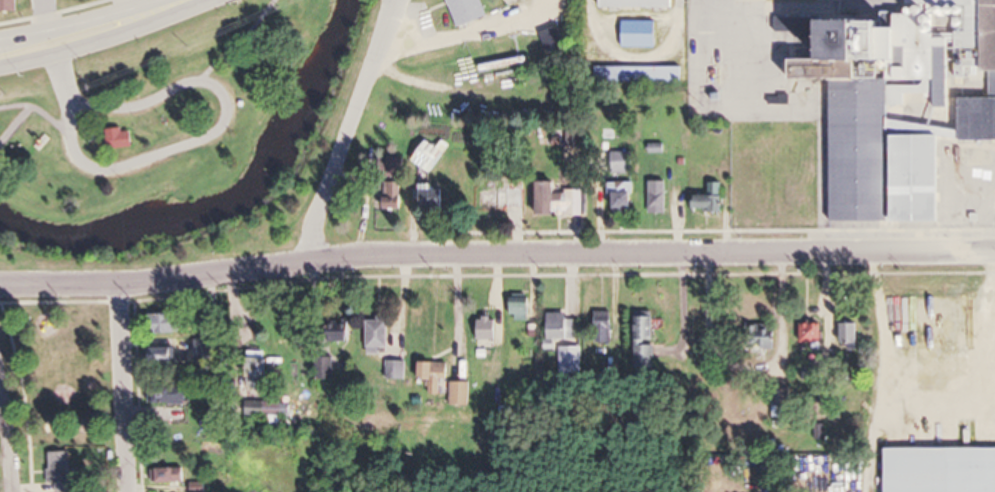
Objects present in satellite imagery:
road: (179, 2)
road: (129, 4)
building: (638, 4)
building: (11, 5)
building: (470, 11)
road: (48, 13)
road: (85, 16)
road: (239, 37)
building: (556, 41)
road: (89, 42)
building: (640, 75)
building: (904, 105)
road: (101, 111)
park: (151, 114)
road: (14, 127)
road: (351, 130)
building: (122, 138)
road: (195, 140)
building: (429, 157)
building: (621, 163)
building: (505, 195)
building: (659, 197)
building: (623, 198)
building: (434, 199)
building: (563, 200)
building: (709, 204)
river: (231, 212)
road: (496, 252)
road: (458, 300)
building: (169, 323)
building: (561, 326)
building: (487, 327)
building: (604, 328)
building: (648, 332)
building: (851, 332)
building: (379, 335)
building: (764, 336)
building: (206, 351)
building: (165, 356)
building: (570, 359)
park: (61, 363)
building: (259, 371)
road: (121, 388)
building: (461, 393)
building: (169, 394)
building: (273, 409)
road: (11, 431)
building: (942, 469)
building: (62, 472)
building: (171, 475)

